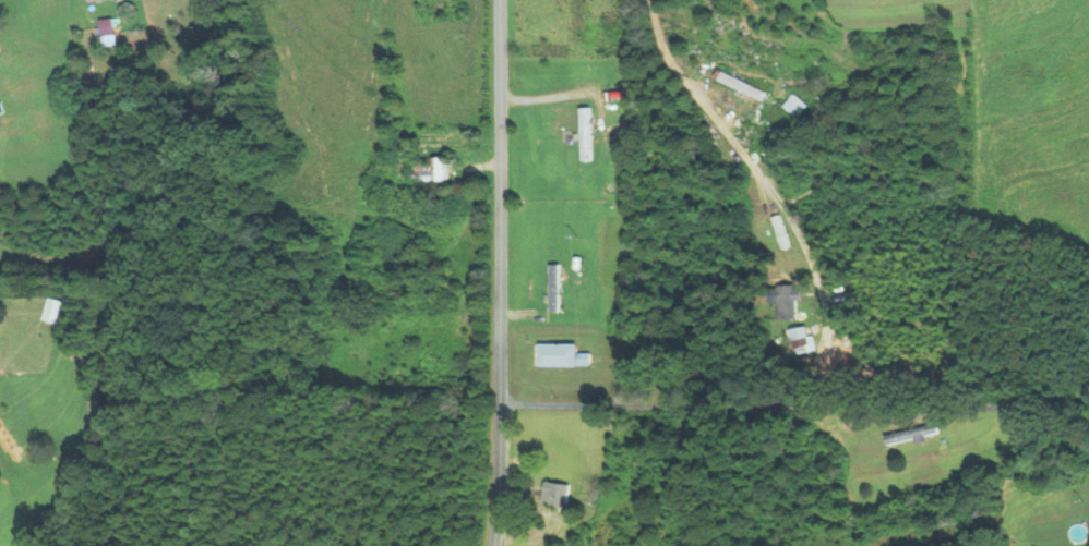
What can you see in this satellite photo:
building: (91, 0)
building: (581, 21)
building: (108, 26)
road: (672, 54)
building: (742, 84)
building: (798, 106)
building: (584, 133)
building: (432, 169)
building: (781, 231)
road: (502, 272)
building: (414, 283)
building: (555, 287)
building: (790, 302)
building: (802, 339)
building: (563, 355)
road: (795, 405)
building: (910, 434)
building: (559, 494)

